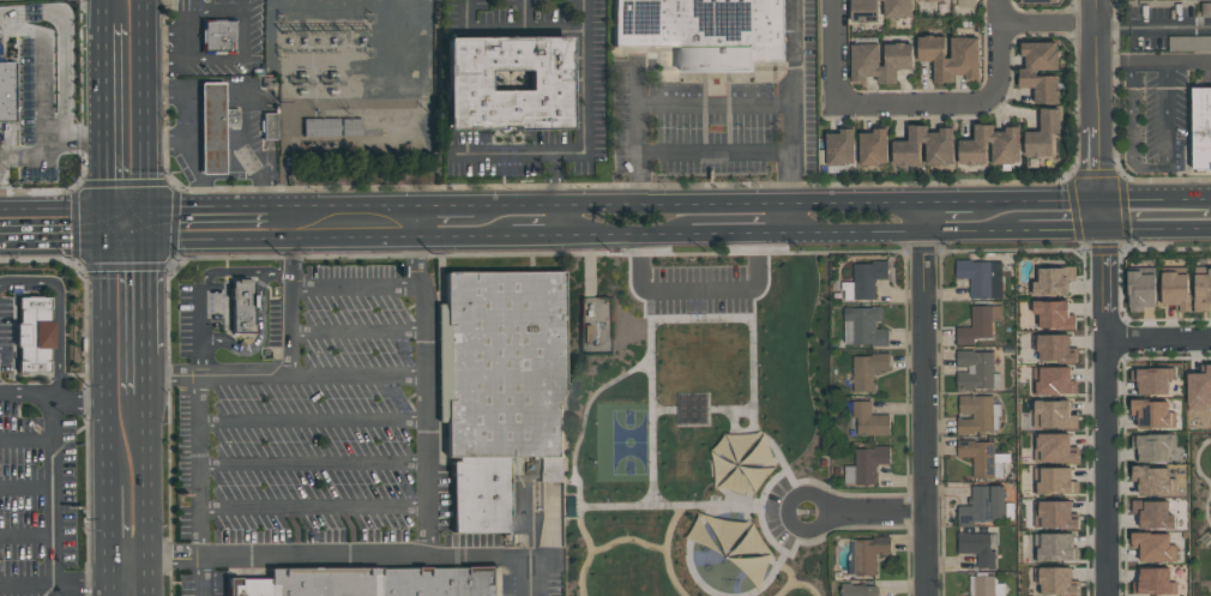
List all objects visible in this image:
building: (926, 0)
building: (1037, 1)
building: (879, 8)
building: (1206, 8)
road: (107, 10)
road: (242, 24)
road: (1034, 24)
road: (1151, 25)
building: (704, 30)
building: (216, 36)
building: (1194, 42)
road: (794, 52)
building: (947, 58)
building: (879, 60)
road: (1189, 62)
road: (1111, 64)
road: (1149, 64)
building: (1028, 72)
power substation: (353, 76)
road: (108, 82)
building: (506, 83)
building: (6, 91)
road: (40, 98)
road: (1096, 98)
road: (713, 104)
road: (904, 106)
road: (145, 113)
building: (269, 126)
road: (585, 126)
building: (213, 127)
building: (1201, 127)
building: (320, 128)
building: (1043, 133)
building: (839, 146)
building: (873, 146)
road: (52, 150)
building: (905, 152)
building: (1005, 152)
road: (713, 153)
road: (505, 157)
road: (1150, 167)
road: (114, 183)
traffic signals: (1099, 198)
road: (1155, 198)
road: (1001, 199)
road: (847, 201)
road: (743, 203)
road: (623, 204)
road: (64, 209)
road: (1099, 212)
road: (924, 216)
road: (789, 217)
traffic signals: (127, 223)
road: (209, 223)
road: (361, 223)
road: (450, 223)
road: (489, 223)
road: (534, 223)
road: (1156, 227)
traffic signals: (1101, 228)
road: (1000, 229)
road: (844, 231)
road: (737, 233)
road: (620, 234)
road: (86, 235)
road: (23, 241)
road: (134, 248)
road: (291, 252)
road: (697, 253)
road: (766, 253)
road: (628, 254)
street lamp: (724, 264)
road: (588, 265)
street lamp: (671, 265)
street lamp: (771, 270)
street lamp: (626, 271)
road: (243, 273)
building: (869, 277)
building: (981, 277)
building: (1052, 281)
road: (1102, 282)
parking lot: (698, 287)
road: (697, 288)
building: (1201, 288)
road: (357, 289)
building: (1175, 289)
building: (1140, 290)
road: (647, 301)
road: (695, 301)
building: (242, 306)
road: (107, 307)
road: (58, 311)
building: (1053, 313)
building: (35, 321)
street lamp: (725, 324)
street lamp: (665, 325)
building: (976, 325)
road: (143, 326)
building: (864, 326)
road: (291, 327)
road: (357, 331)
road: (1157, 337)
building: (1054, 347)
street lamp: (656, 354)
street lamp: (757, 365)
building: (975, 369)
building: (868, 371)
road: (283, 374)
building: (1151, 379)
building: (1053, 380)
road: (143, 386)
building: (1199, 387)
building: (500, 389)
road: (56, 395)
road: (83, 395)
street lamp: (656, 397)
street lamp: (740, 403)
building: (692, 408)
road: (926, 413)
building: (1151, 413)
building: (976, 414)
building: (1053, 414)
road: (312, 420)
building: (869, 420)
road: (199, 421)
street lamp: (595, 422)
street lamp: (649, 422)
road: (693, 425)
park: (703, 428)
road: (144, 437)
road: (107, 440)
park: (628, 441)
road: (26, 443)
street lamp: (1200, 443)
street lamp: (778, 445)
building: (1152, 446)
building: (1053, 447)
street lamp: (657, 452)
building: (978, 457)
street lamp: (595, 460)
street lamp: (649, 460)
road: (54, 463)
building: (869, 463)
road: (313, 464)
road: (1102, 466)
street lamp: (770, 476)
road: (1204, 478)
building: (1054, 480)
building: (1153, 480)
road: (26, 490)
road: (868, 494)
street lamp: (692, 499)
street lamp: (607, 500)
building: (570, 505)
building: (983, 505)
road: (314, 507)
road: (775, 507)
road: (906, 510)
flagpole: (806, 511)
park: (1199, 511)
parking lot: (776, 512)
road: (876, 512)
building: (1053, 513)
building: (1153, 513)
street lamp: (1199, 514)
road: (146, 517)
street lamp: (741, 517)
road: (108, 522)
road: (868, 526)
road: (428, 529)
building: (553, 531)
road: (800, 531)
road: (1210, 534)
road: (26, 537)
building: (1205, 538)
street lamp: (767, 544)
building: (1152, 546)
building: (1054, 547)
building: (976, 548)
building: (869, 553)
road: (496, 555)
road: (127, 556)
street lamp: (683, 565)
road: (108, 572)
road: (147, 572)
road: (200, 577)
street lamp: (567, 578)
street lamp: (799, 578)
building: (1153, 579)
building: (1055, 580)
building: (373, 583)
building: (983, 585)
road: (26, 586)
road: (80, 586)
road: (127, 586)
building: (860, 589)
road: (54, 591)
road: (108, 591)
road: (146, 591)

